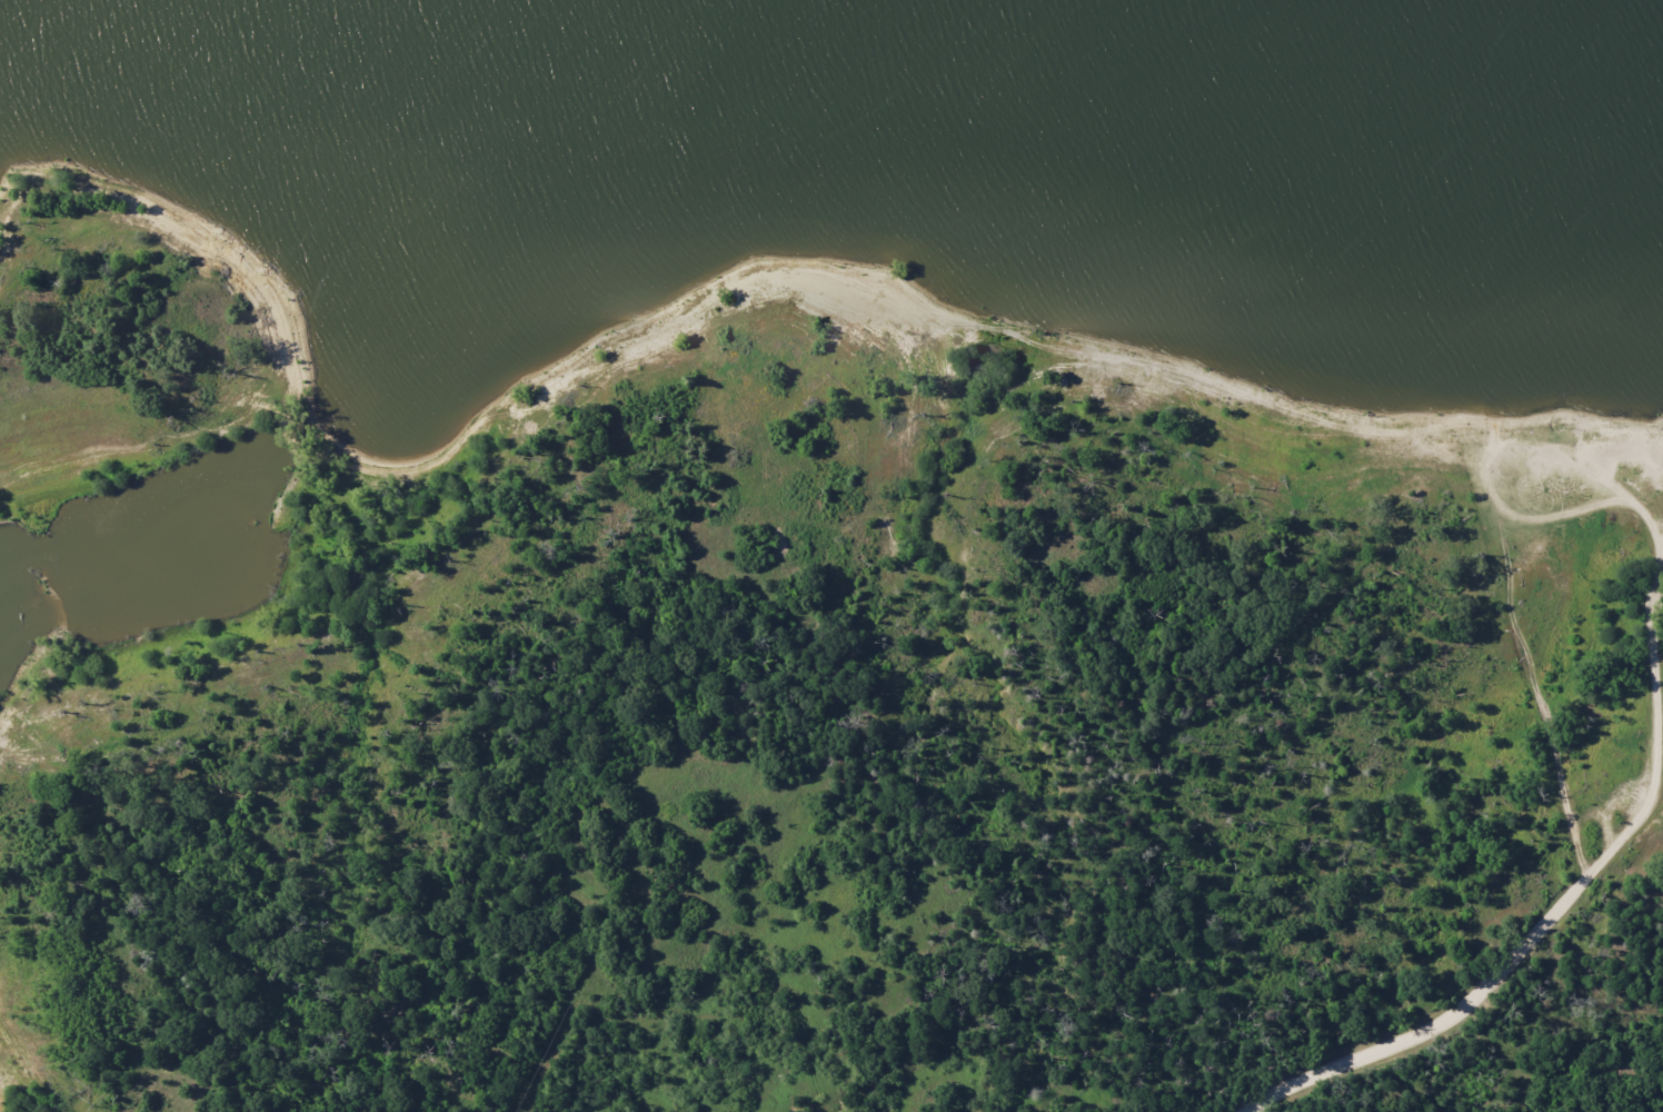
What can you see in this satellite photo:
road: (1621, 439)
road: (1490, 467)
road: (1649, 515)
road: (1534, 703)
road: (1633, 833)
road: (1445, 1023)

